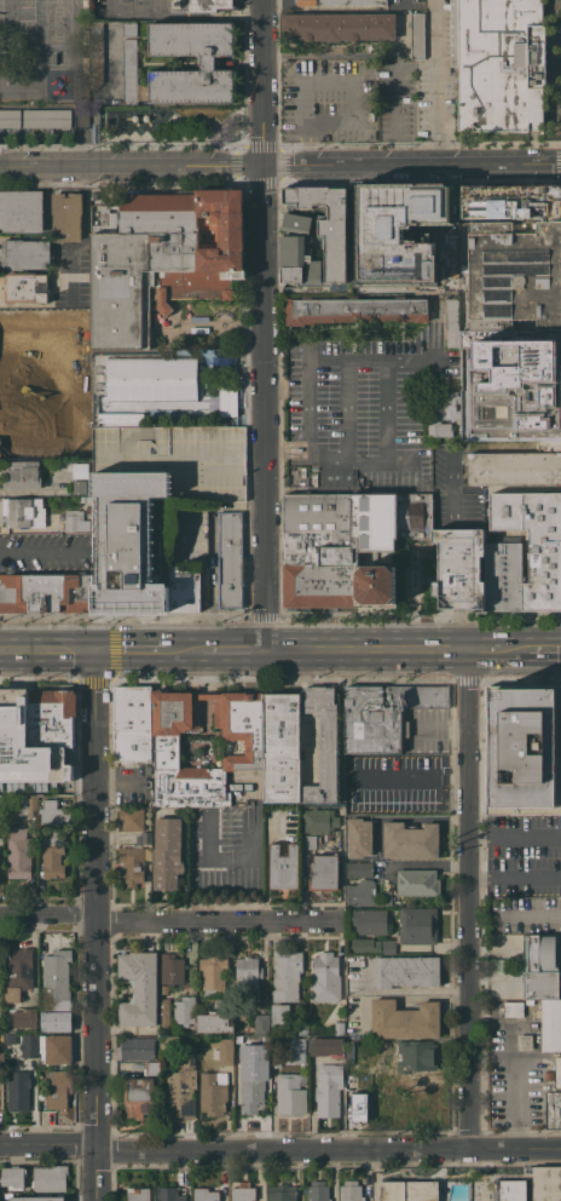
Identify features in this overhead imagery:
road: (399, 0)
building: (339, 2)
building: (201, 5)
road: (181, 13)
building: (337, 25)
building: (129, 28)
building: (416, 35)
building: (96, 53)
building: (208, 59)
building: (498, 63)
building: (129, 70)
road: (436, 81)
parking lot: (424, 85)
road: (399, 97)
parking lot: (331, 102)
building: (10, 117)
building: (46, 117)
road: (354, 121)
park: (173, 123)
road: (307, 143)
road: (280, 165)
building: (511, 202)
building: (21, 211)
building: (66, 216)
building: (291, 242)
building: (24, 254)
building: (161, 258)
building: (73, 260)
building: (514, 276)
building: (24, 287)
building: (354, 309)
building: (451, 322)
road: (262, 323)
road: (371, 358)
building: (497, 381)
road: (99, 384)
building: (443, 413)
building: (551, 443)
building: (514, 469)
building: (22, 475)
building: (77, 487)
building: (507, 488)
building: (88, 508)
building: (23, 512)
building: (75, 521)
building: (125, 541)
building: (534, 541)
building: (348, 545)
road: (34, 552)
building: (230, 558)
building: (458, 568)
building: (503, 576)
building: (184, 588)
building: (46, 592)
road: (47, 647)
traffic signals: (94, 647)
road: (129, 647)
road: (184, 648)
road: (233, 648)
road: (366, 650)
road: (515, 650)
road: (545, 650)
road: (485, 651)
building: (383, 714)
building: (12, 717)
building: (50, 717)
building: (131, 724)
road: (441, 728)
building: (322, 743)
building: (244, 746)
building: (280, 746)
building: (306, 748)
building: (522, 749)
road: (455, 776)
road: (400, 777)
building: (30, 805)
building: (53, 812)
building: (131, 820)
building: (319, 820)
building: (0, 834)
building: (326, 835)
road: (514, 835)
building: (144, 837)
building: (358, 838)
building: (410, 840)
building: (310, 841)
building: (18, 852)
building: (166, 852)
building: (52, 855)
building: (133, 862)
road: (426, 864)
building: (282, 866)
building: (358, 868)
building: (323, 872)
road: (514, 877)
building: (416, 881)
building: (364, 893)
road: (465, 900)
road: (527, 914)
building: (369, 920)
road: (168, 923)
road: (96, 924)
building: (416, 925)
building: (374, 946)
building: (540, 966)
building: (172, 969)
building: (405, 971)
building: (18, 972)
building: (212, 975)
building: (247, 976)
building: (287, 976)
building: (325, 977)
building: (56, 979)
building: (137, 987)
building: (163, 988)
building: (513, 1009)
building: (183, 1010)
building: (163, 1011)
building: (24, 1016)
building: (287, 1018)
building: (404, 1019)
building: (54, 1021)
building: (212, 1023)
building: (260, 1024)
building: (550, 1025)
building: (339, 1028)
building: (10, 1039)
building: (168, 1041)
building: (525, 1041)
building: (28, 1046)
building: (325, 1046)
building: (54, 1048)
building: (137, 1048)
building: (294, 1050)
building: (1, 1051)
building: (225, 1051)
building: (348, 1052)
building: (412, 1056)
building: (239, 1057)
building: (276, 1062)
building: (151, 1068)
building: (557, 1071)
building: (548, 1075)
building: (386, 1079)
building: (349, 1082)
building: (378, 1086)
road: (516, 1086)
building: (57, 1088)
building: (180, 1088)
building: (328, 1088)
building: (17, 1090)
building: (212, 1092)
building: (290, 1093)
building: (251, 1094)
building: (138, 1097)
building: (33, 1101)
building: (422, 1105)
building: (359, 1107)
building: (382, 1108)
building: (553, 1109)
road: (279, 1150)
road: (332, 1176)
road: (365, 1176)
road: (374, 1176)
building: (12, 1177)
building: (48, 1178)
building: (546, 1183)
building: (407, 1190)
building: (509, 1190)
building: (242, 1191)
building: (317, 1191)
building: (349, 1191)
building: (280, 1193)
building: (137, 1194)
building: (167, 1194)
building: (204, 1194)
building: (17, 1197)

